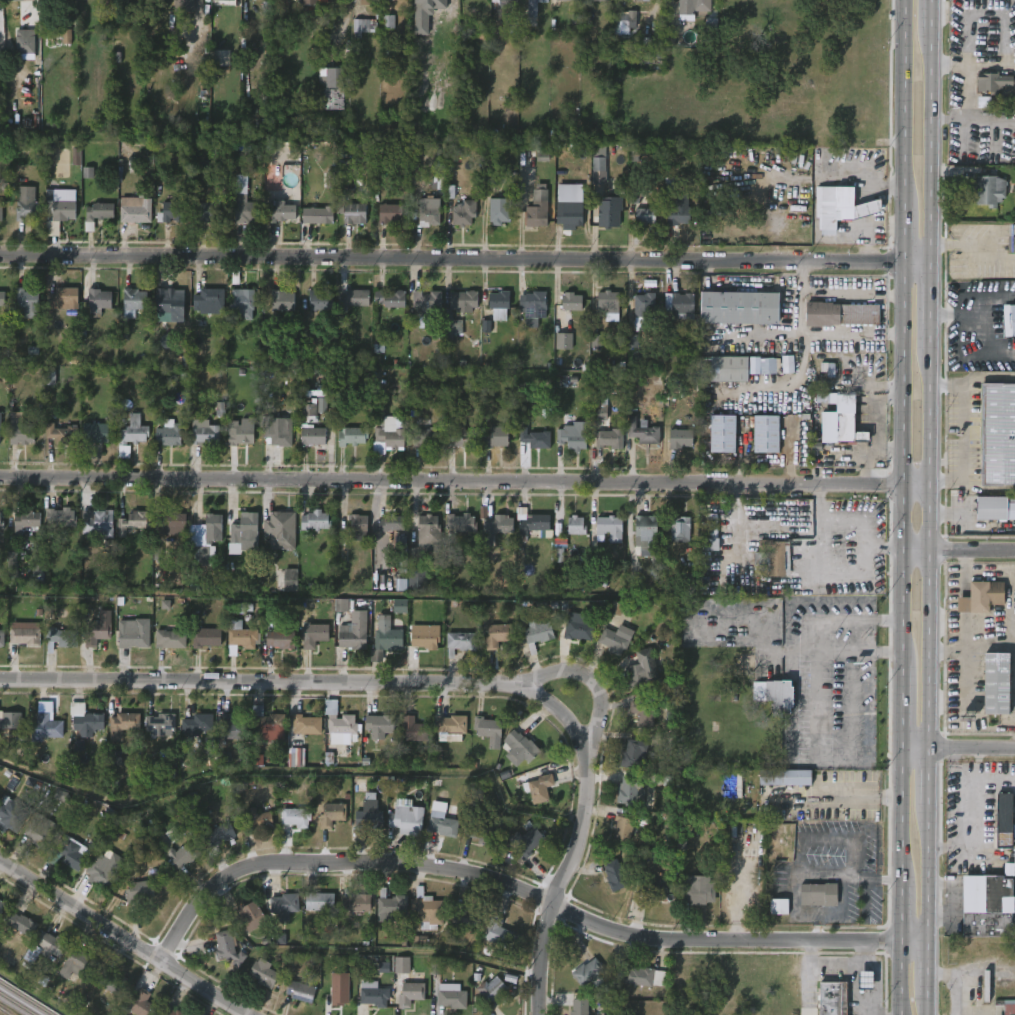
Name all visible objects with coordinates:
building: (12, 0)
building: (224, 0)
building: (394, 0)
building: (571, 0)
building: (600, 0)
building: (644, 0)
building: (535, 1)
building: (310, 2)
building: (365, 2)
building: (182, 3)
building: (586, 3)
building: (692, 6)
road: (931, 15)
building: (386, 18)
building: (624, 20)
building: (363, 26)
building: (482, 31)
building: (67, 36)
building: (26, 40)
building: (220, 58)
building: (331, 78)
building: (993, 81)
building: (1004, 101)
road: (902, 103)
road: (972, 119)
building: (992, 143)
road: (929, 146)
building: (635, 153)
building: (598, 169)
building: (88, 173)
building: (330, 180)
building: (989, 191)
building: (28, 204)
building: (537, 207)
building: (839, 207)
building: (2, 209)
building: (65, 209)
building: (212, 209)
building: (498, 210)
building: (248, 211)
building: (284, 211)
building: (355, 211)
building: (609, 211)
building: (133, 212)
building: (170, 212)
building: (391, 212)
building: (100, 213)
building: (463, 213)
building: (321, 214)
building: (568, 214)
building: (643, 216)
building: (678, 216)
building: (427, 217)
road: (899, 235)
building: (1012, 241)
road: (980, 246)
road: (448, 258)
road: (913, 263)
building: (239, 295)
building: (61, 297)
building: (389, 298)
building: (2, 299)
building: (27, 299)
building: (95, 299)
building: (280, 299)
building: (321, 299)
building: (352, 299)
building: (130, 301)
building: (208, 301)
building: (462, 301)
building: (570, 301)
road: (985, 301)
building: (607, 304)
building: (643, 304)
building: (168, 305)
building: (499, 305)
building: (679, 305)
building: (426, 306)
road: (929, 306)
building: (532, 307)
building: (739, 308)
building: (837, 313)
road: (945, 316)
building: (1009, 320)
building: (451, 330)
building: (633, 340)
building: (563, 341)
building: (596, 341)
road: (970, 354)
building: (770, 364)
building: (721, 368)
building: (827, 369)
building: (322, 405)
building: (597, 406)
building: (311, 426)
building: (1, 427)
building: (848, 430)
building: (135, 431)
building: (243, 432)
building: (642, 432)
building: (93, 433)
building: (167, 433)
building: (278, 433)
road: (962, 433)
building: (23, 434)
building: (59, 434)
building: (722, 434)
building: (996, 434)
building: (203, 435)
building: (390, 435)
building: (464, 435)
building: (571, 435)
building: (764, 435)
building: (350, 436)
building: (428, 436)
building: (499, 437)
building: (537, 438)
building: (612, 438)
building: (679, 438)
road: (898, 462)
road: (464, 483)
building: (993, 508)
building: (59, 518)
building: (0, 521)
building: (171, 521)
building: (313, 521)
building: (132, 522)
building: (26, 523)
building: (95, 523)
building: (389, 523)
building: (460, 523)
building: (356, 524)
building: (497, 524)
building: (1, 525)
building: (532, 526)
building: (575, 526)
building: (211, 528)
building: (609, 528)
building: (678, 529)
building: (282, 530)
building: (646, 531)
building: (706, 531)
building: (244, 532)
building: (425, 538)
road: (928, 548)
road: (957, 553)
building: (770, 557)
road: (826, 572)
building: (288, 578)
building: (417, 580)
building: (730, 586)
road: (965, 586)
building: (979, 597)
road: (965, 604)
building: (341, 611)
road: (964, 627)
building: (311, 629)
building: (576, 629)
building: (98, 633)
building: (536, 633)
building: (495, 634)
building: (351, 635)
building: (27, 636)
building: (239, 636)
building: (63, 637)
building: (132, 637)
building: (208, 637)
building: (616, 637)
building: (3, 638)
building: (279, 638)
building: (172, 639)
building: (384, 639)
building: (423, 639)
building: (460, 641)
road: (1007, 642)
road: (811, 646)
road: (855, 649)
road: (946, 652)
building: (642, 669)
road: (588, 680)
road: (260, 682)
building: (996, 682)
building: (778, 695)
road: (900, 705)
building: (646, 714)
building: (194, 723)
building: (305, 723)
building: (13, 724)
building: (90, 724)
building: (163, 724)
building: (339, 724)
building: (450, 724)
building: (125, 725)
building: (268, 725)
building: (381, 726)
building: (48, 727)
building: (233, 727)
building: (413, 729)
building: (488, 730)
building: (525, 749)
road: (914, 749)
road: (971, 749)
building: (633, 754)
building: (781, 777)
road: (928, 778)
building: (539, 787)
building: (628, 790)
road: (830, 798)
building: (13, 814)
building: (367, 814)
building: (333, 815)
road: (898, 816)
building: (295, 817)
building: (1004, 818)
building: (404, 819)
building: (256, 820)
building: (441, 823)
building: (626, 823)
building: (40, 830)
building: (480, 832)
building: (174, 835)
road: (578, 837)
building: (218, 839)
building: (526, 840)
road: (825, 840)
building: (72, 852)
building: (183, 854)
building: (1013, 861)
road: (869, 873)
road: (927, 874)
building: (102, 876)
building: (613, 877)
road: (801, 877)
road: (507, 885)
building: (654, 887)
building: (139, 889)
building: (696, 889)
building: (823, 894)
building: (316, 901)
building: (355, 902)
building: (283, 903)
building: (3, 907)
building: (778, 907)
building: (393, 909)
building: (428, 910)
building: (991, 910)
road: (896, 913)
building: (468, 918)
building: (246, 920)
building: (19, 924)
road: (817, 928)
building: (496, 931)
road: (122, 939)
road: (911, 942)
building: (43, 947)
building: (226, 948)
building: (75, 966)
building: (402, 966)
road: (927, 969)
building: (587, 973)
building: (266, 974)
building: (643, 976)
road: (896, 978)
building: (112, 981)
building: (299, 990)
building: (490, 992)
building: (372, 993)
building: (407, 994)
building: (336, 995)
building: (450, 996)
railway: (27, 997)
building: (832, 998)
railway: (17, 1003)
building: (140, 1003)
road: (926, 1005)
building: (1007, 1006)
building: (578, 1007)
railway: (6, 1011)
railway: (6, 1012)
building: (169, 1012)

